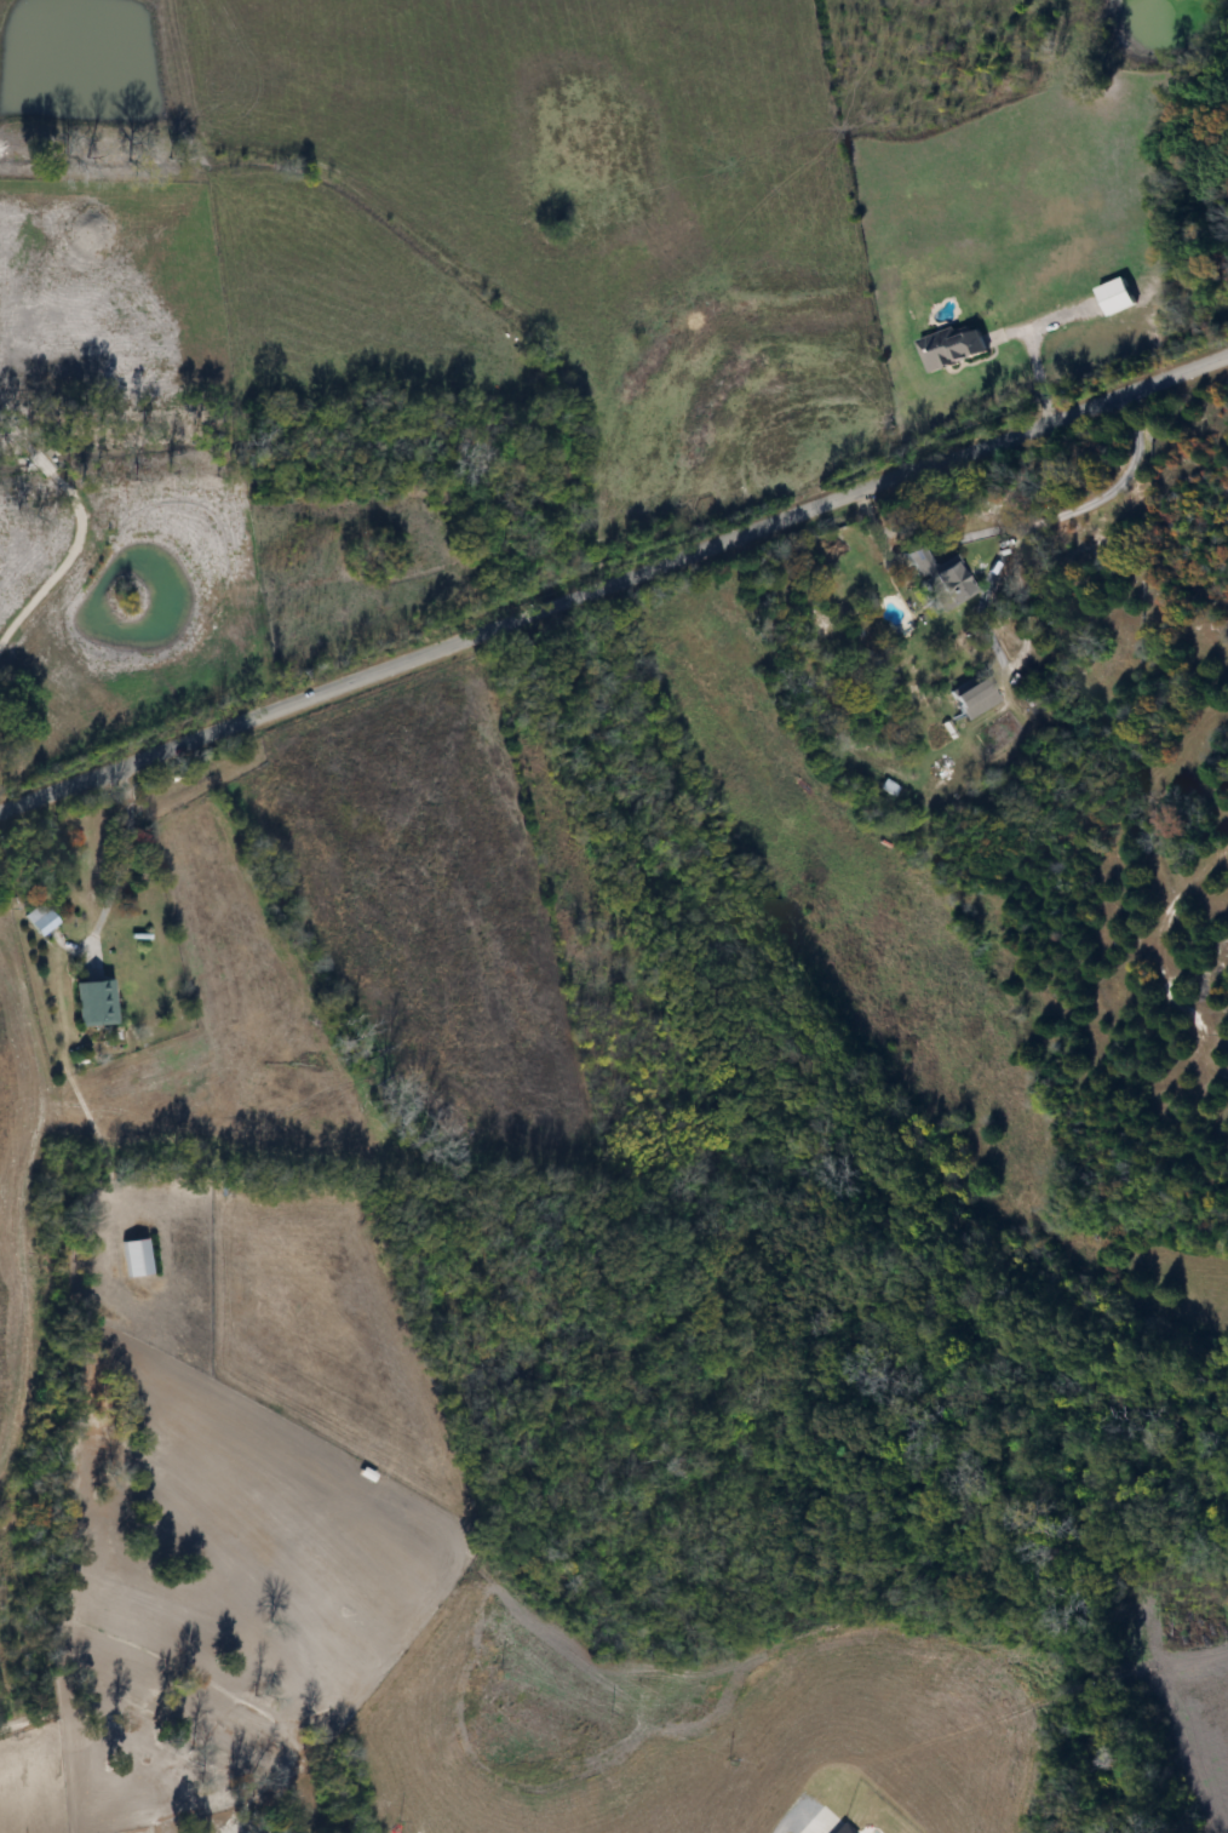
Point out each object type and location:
building: (1111, 297)
building: (947, 348)
road: (1034, 363)
road: (1080, 503)
road: (81, 523)
road: (614, 580)
building: (935, 580)
road: (982, 591)
building: (969, 700)
road: (126, 857)
building: (40, 922)
building: (88, 1002)
building: (133, 1259)

